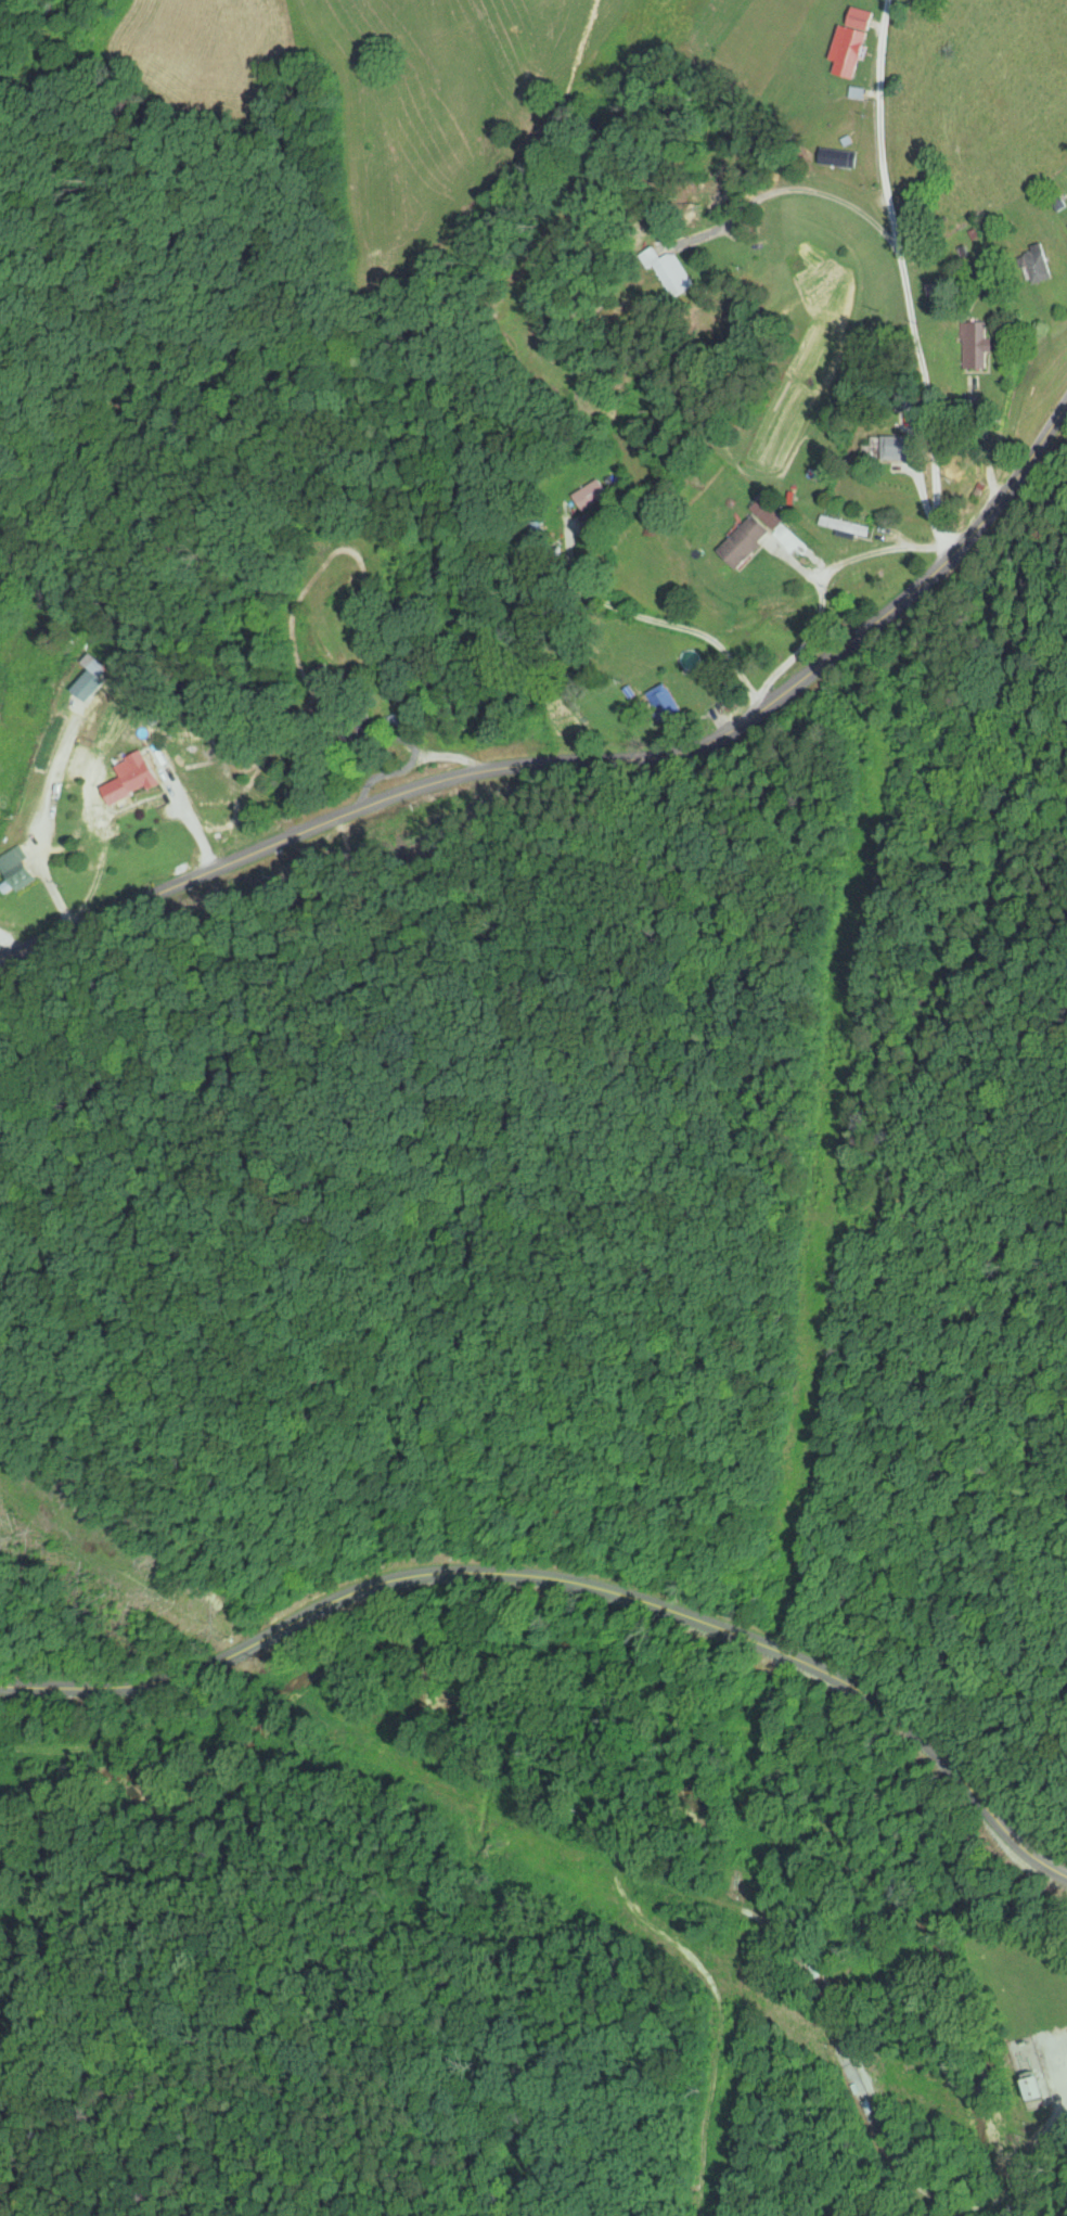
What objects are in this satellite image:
building: (858, 43)
building: (847, 158)
building: (676, 278)
road: (914, 290)
road: (314, 368)
building: (902, 447)
building: (591, 496)
building: (747, 542)
road: (1015, 615)
road: (36, 666)
building: (98, 679)
building: (665, 704)
road: (586, 761)
building: (142, 773)
building: (24, 870)
road: (568, 1584)
building: (1039, 2089)
road: (903, 2149)

